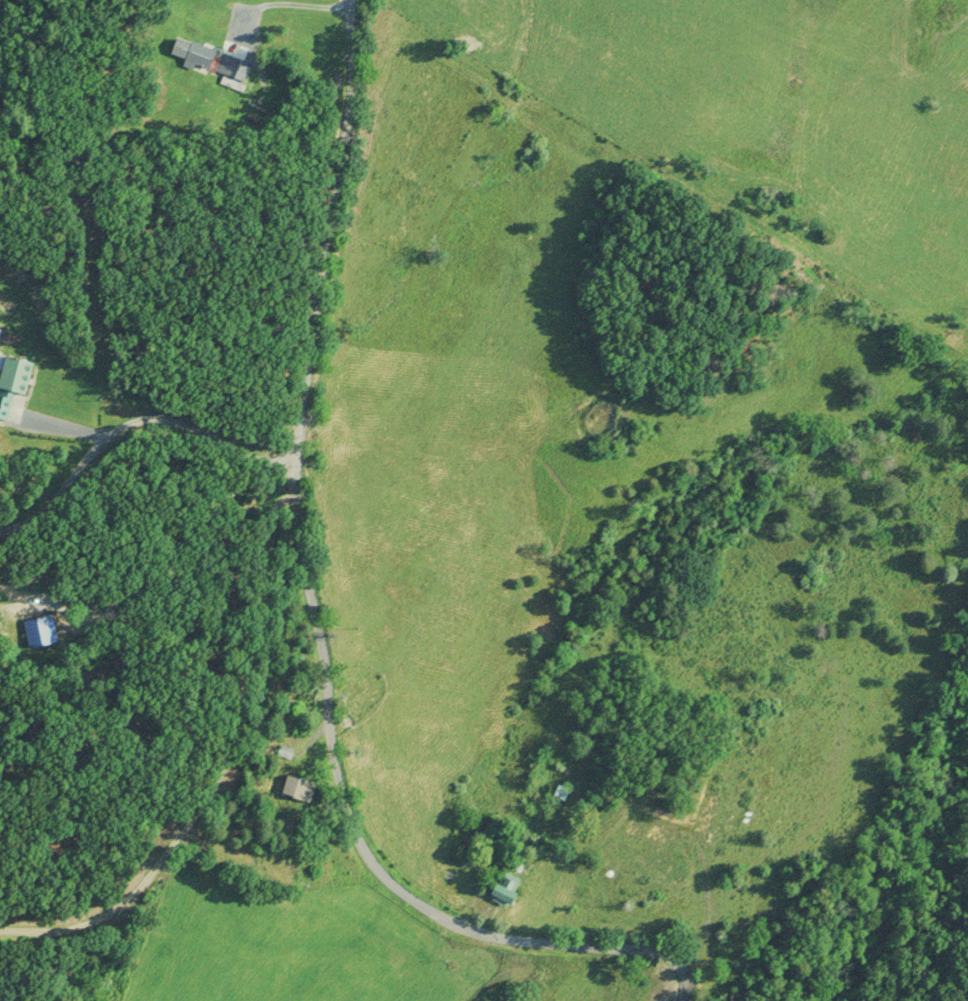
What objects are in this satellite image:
building: (213, 59)
building: (18, 373)
road: (134, 437)
road: (333, 585)
building: (289, 752)
building: (303, 788)
building: (509, 891)

